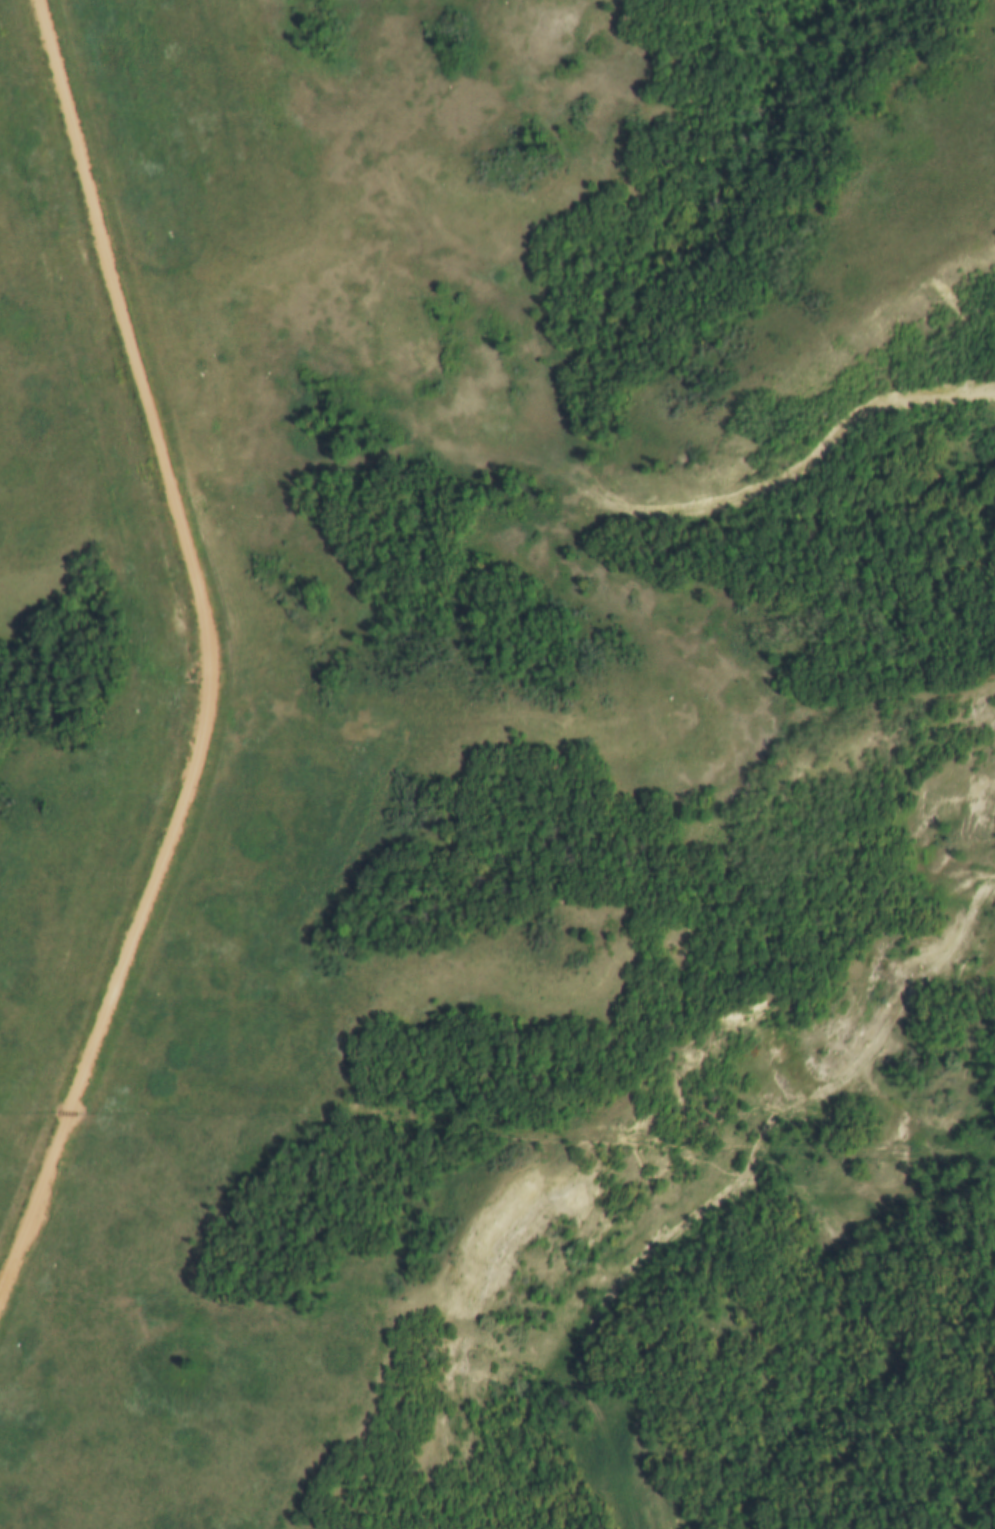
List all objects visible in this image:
road: (593, 494)
road: (205, 647)

